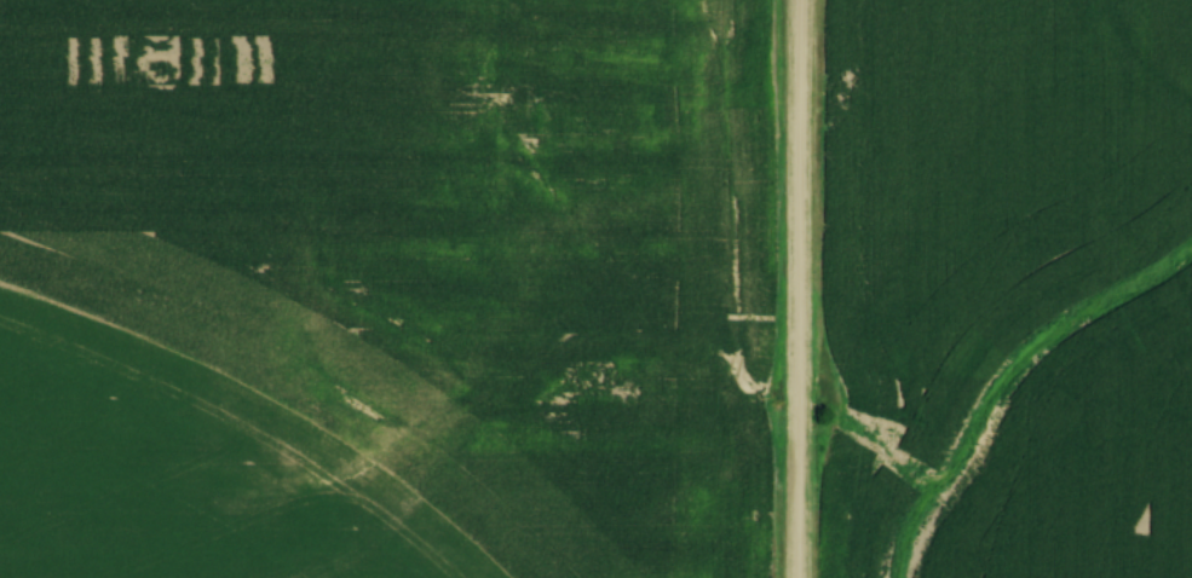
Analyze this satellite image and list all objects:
road: (802, 288)

